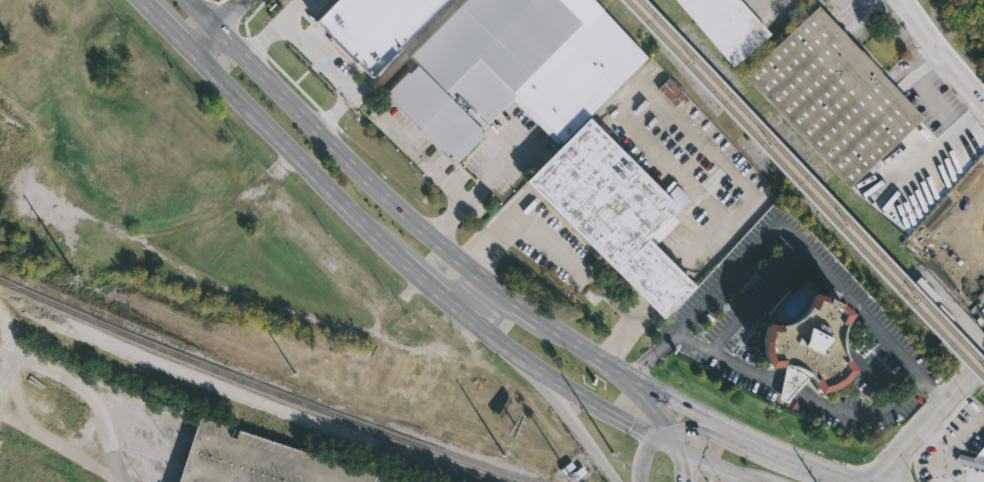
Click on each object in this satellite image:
road: (781, 5)
road: (215, 9)
road: (291, 10)
road: (219, 24)
building: (723, 25)
building: (378, 27)
road: (403, 45)
road: (907, 51)
road: (942, 52)
road: (319, 56)
building: (509, 67)
building: (829, 94)
road: (925, 98)
building: (3, 137)
road: (329, 139)
road: (661, 150)
road: (930, 153)
road: (438, 175)
road: (325, 182)
railway: (812, 183)
railway: (806, 190)
road: (744, 197)
building: (608, 210)
road: (173, 228)
road: (514, 228)
building: (956, 231)
road: (340, 269)
road: (726, 278)
road: (507, 299)
road: (756, 299)
road: (849, 300)
road: (630, 313)
building: (220, 340)
road: (570, 340)
building: (795, 344)
road: (653, 355)
road: (615, 367)
road: (950, 374)
road: (964, 378)
railway: (260, 386)
road: (931, 389)
road: (85, 391)
railway: (245, 391)
road: (799, 391)
road: (635, 392)
road: (934, 392)
road: (582, 398)
road: (962, 398)
building: (413, 409)
road: (697, 412)
road: (566, 417)
road: (965, 429)
traffic signals: (669, 430)
road: (932, 432)
road: (661, 434)
road: (716, 434)
road: (936, 435)
parking lot: (145, 437)
traffic signals: (654, 438)
road: (673, 439)
road: (890, 440)
road: (908, 440)
road: (665, 443)
traffic signals: (677, 448)
road: (783, 452)
road: (642, 458)
road: (908, 459)
building: (972, 459)
building: (257, 460)
parking garage: (257, 460)
road: (681, 464)
road: (719, 465)
road: (831, 470)
road: (937, 470)

